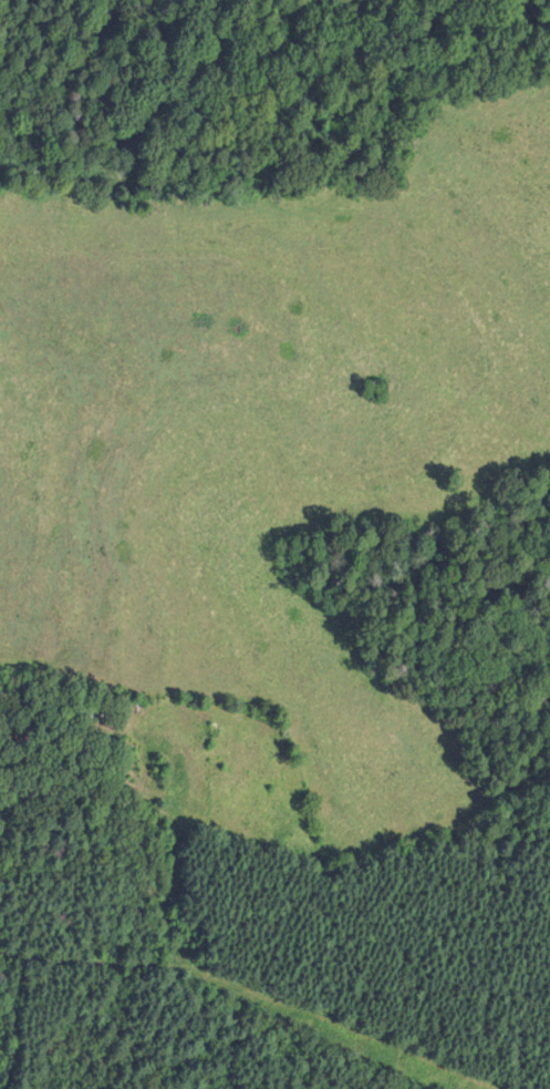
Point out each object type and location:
building: (3, 701)
building: (94, 712)

